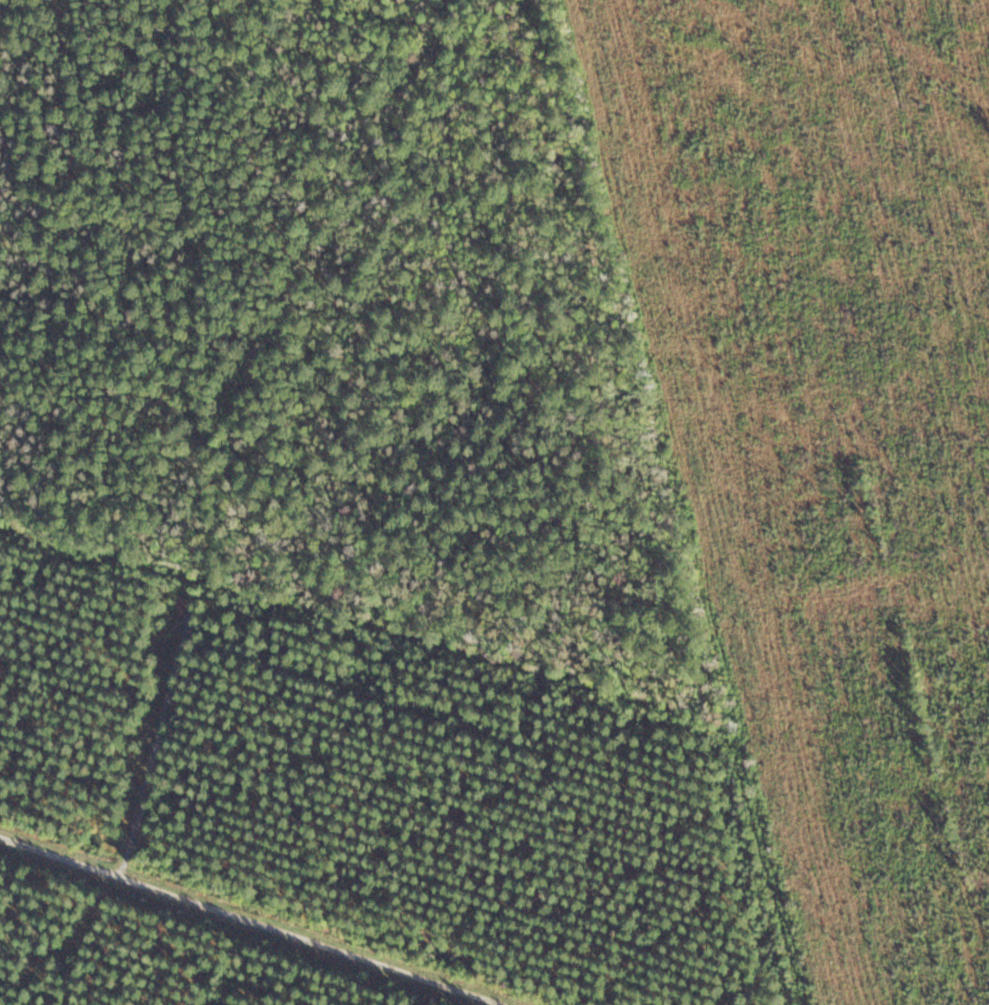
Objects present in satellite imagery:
road: (252, 920)

